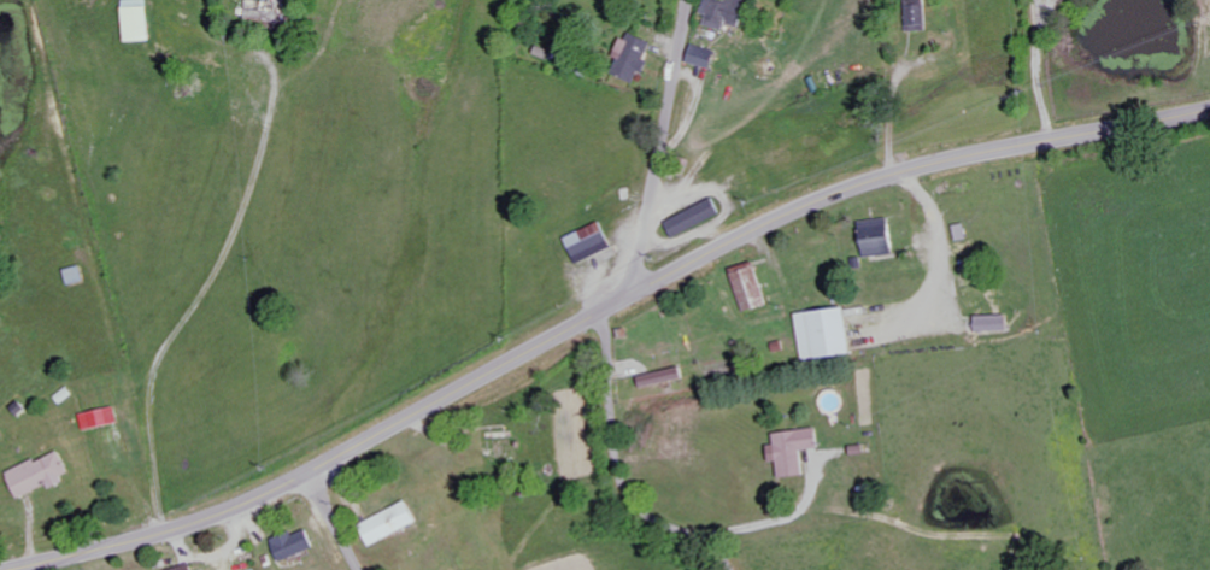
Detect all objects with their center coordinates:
building: (272, 11)
building: (729, 13)
building: (922, 13)
building: (140, 20)
building: (636, 57)
building: (706, 57)
road: (660, 148)
building: (695, 218)
building: (880, 239)
building: (592, 243)
building: (76, 276)
building: (752, 288)
road: (598, 313)
road: (180, 324)
building: (994, 324)
building: (827, 334)
building: (665, 381)
building: (833, 401)
building: (104, 418)
building: (797, 449)
road: (618, 468)
building: (42, 474)
road: (335, 521)
building: (395, 522)
building: (298, 543)
building: (188, 568)

